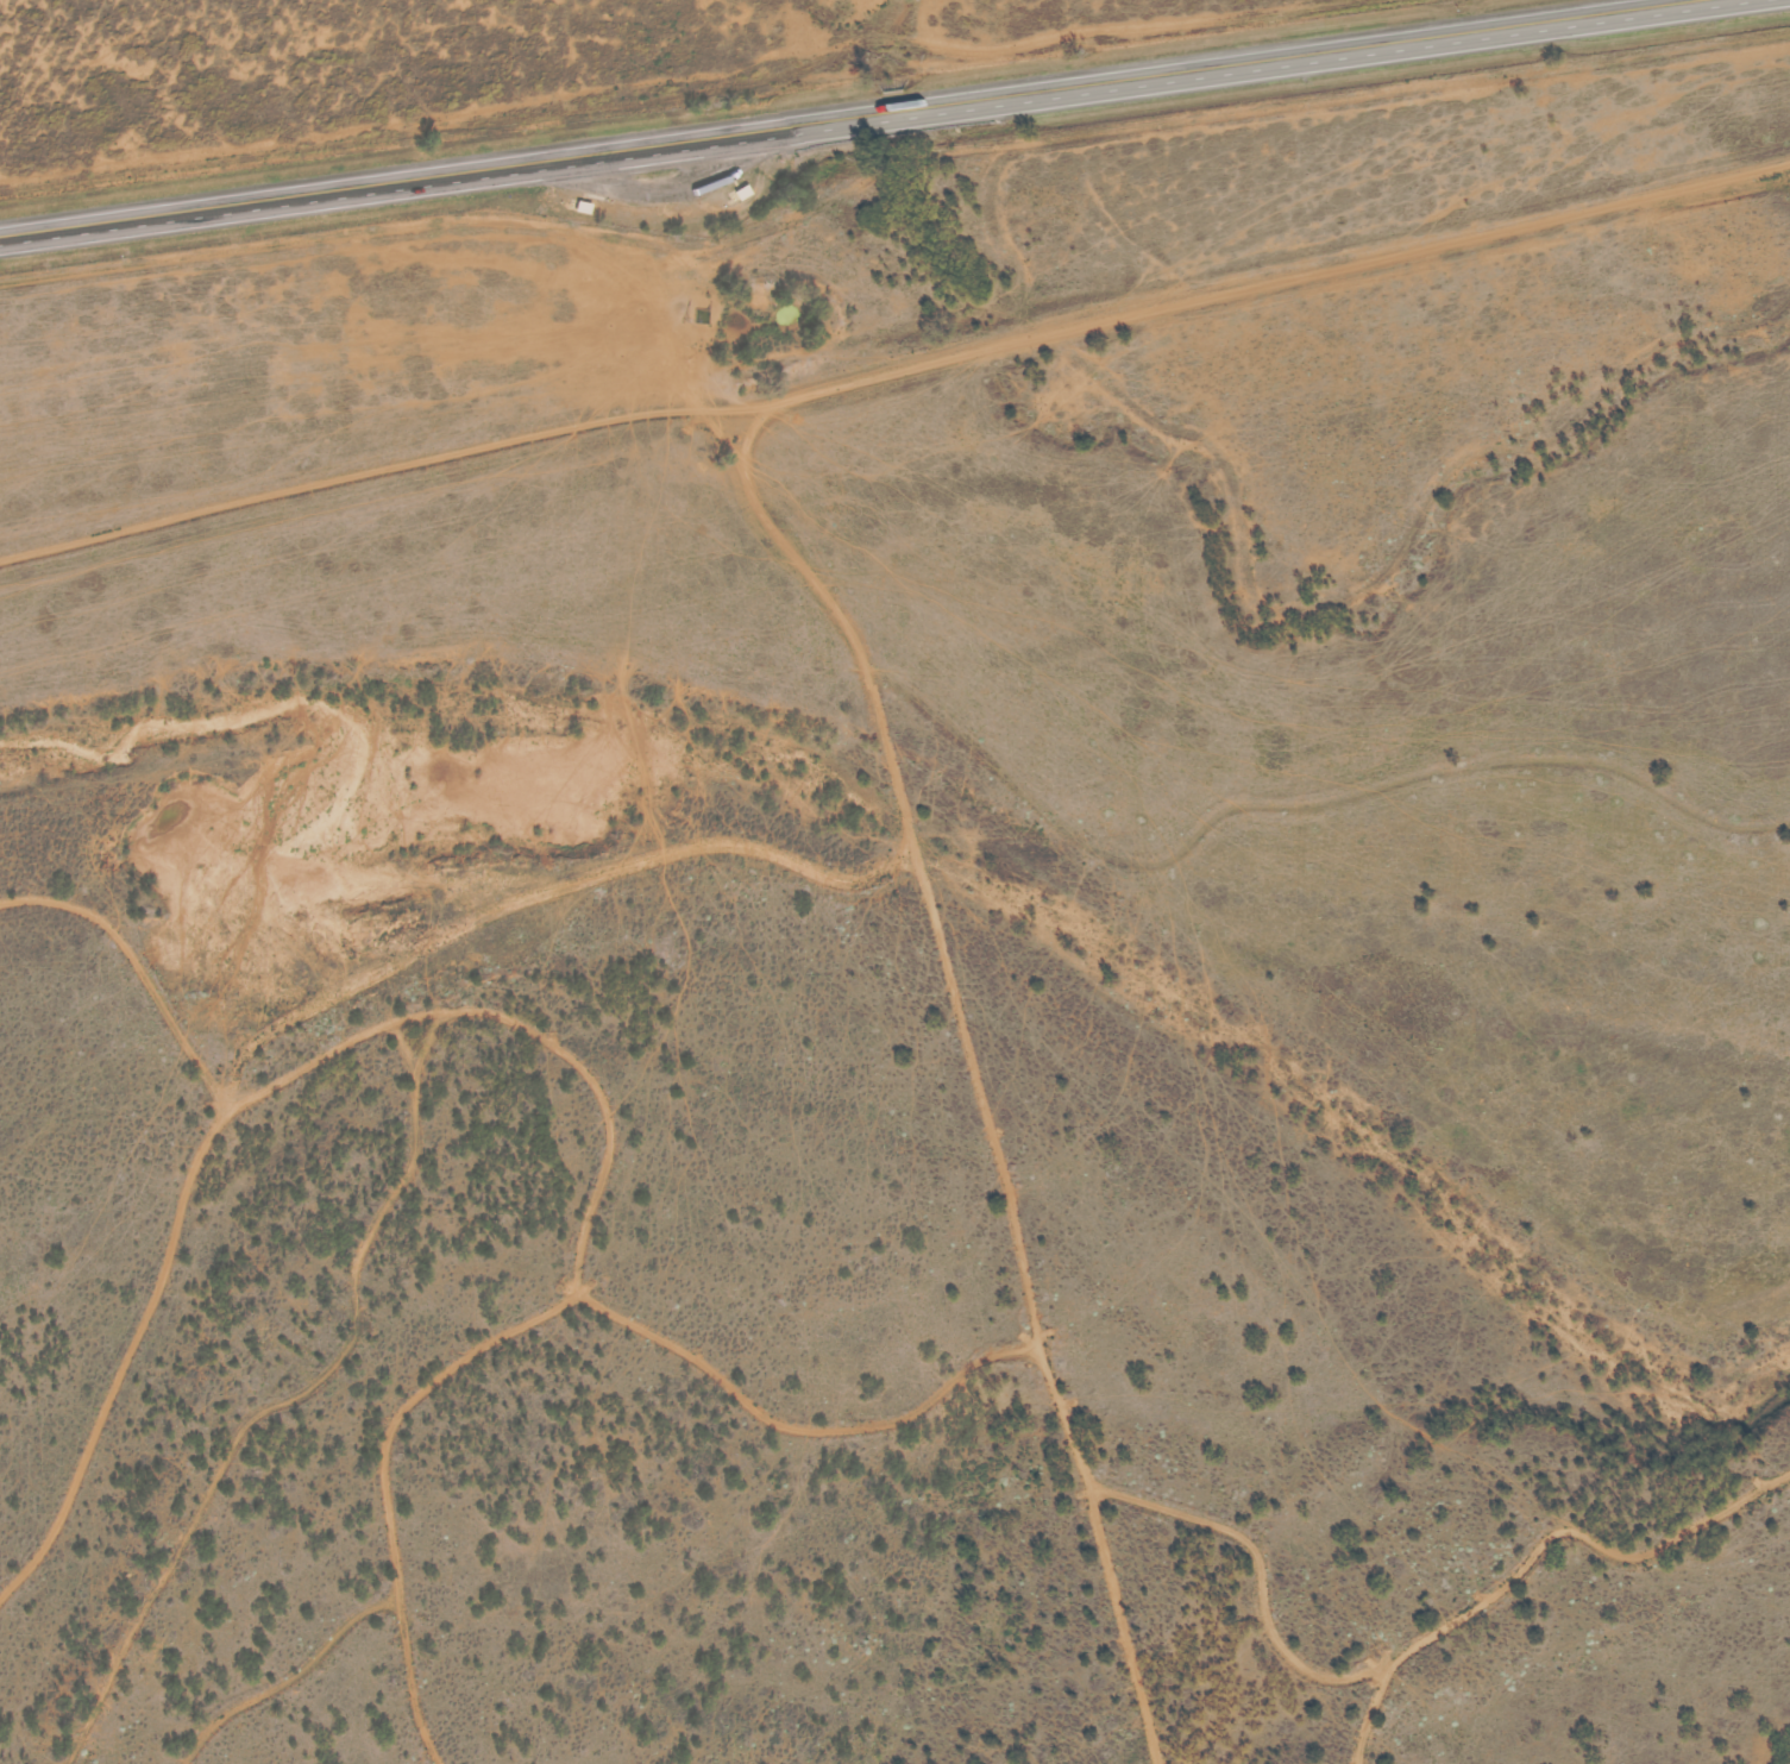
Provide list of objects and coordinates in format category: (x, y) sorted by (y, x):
road: (696, 94)
road: (874, 115)
building: (740, 192)
building: (580, 206)
building: (702, 315)
storage tank: (702, 315)
road: (897, 372)
river: (941, 382)
road: (975, 1065)
road: (1535, 1553)

